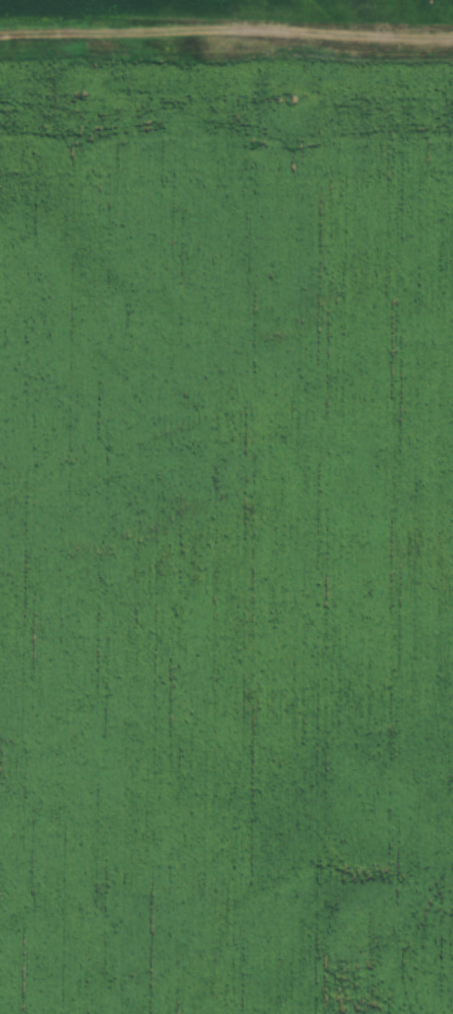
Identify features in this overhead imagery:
road: (227, 27)

